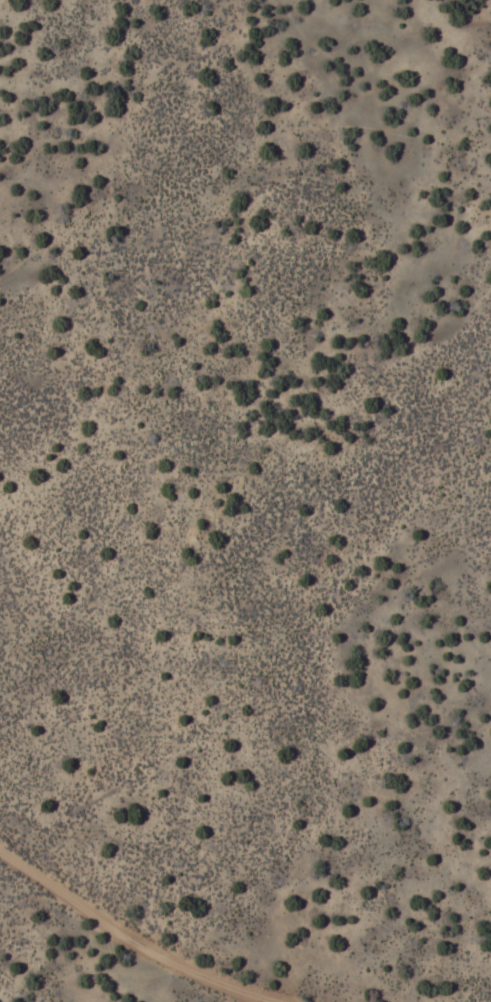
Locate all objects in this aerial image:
road: (125, 937)

